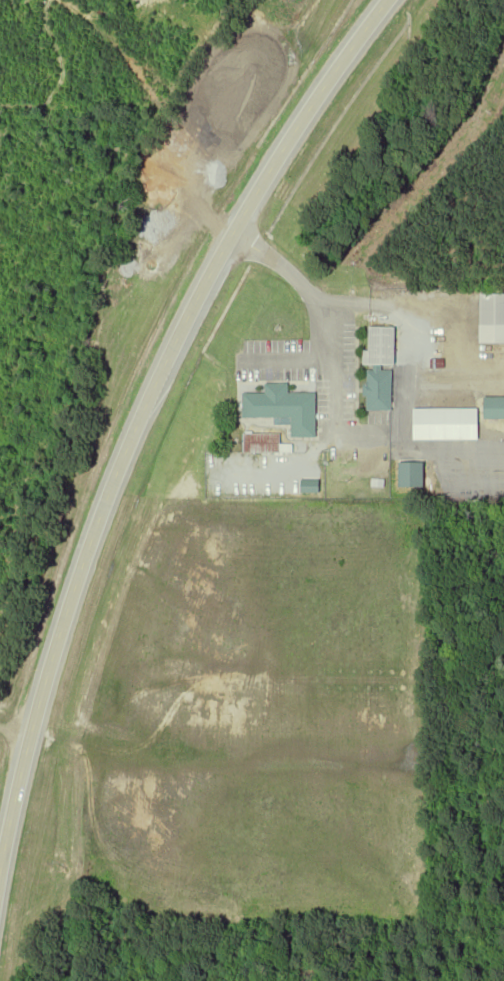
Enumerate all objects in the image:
building: (492, 318)
building: (380, 368)
road: (141, 408)
building: (284, 408)
building: (494, 408)
building: (264, 443)
road: (12, 729)

